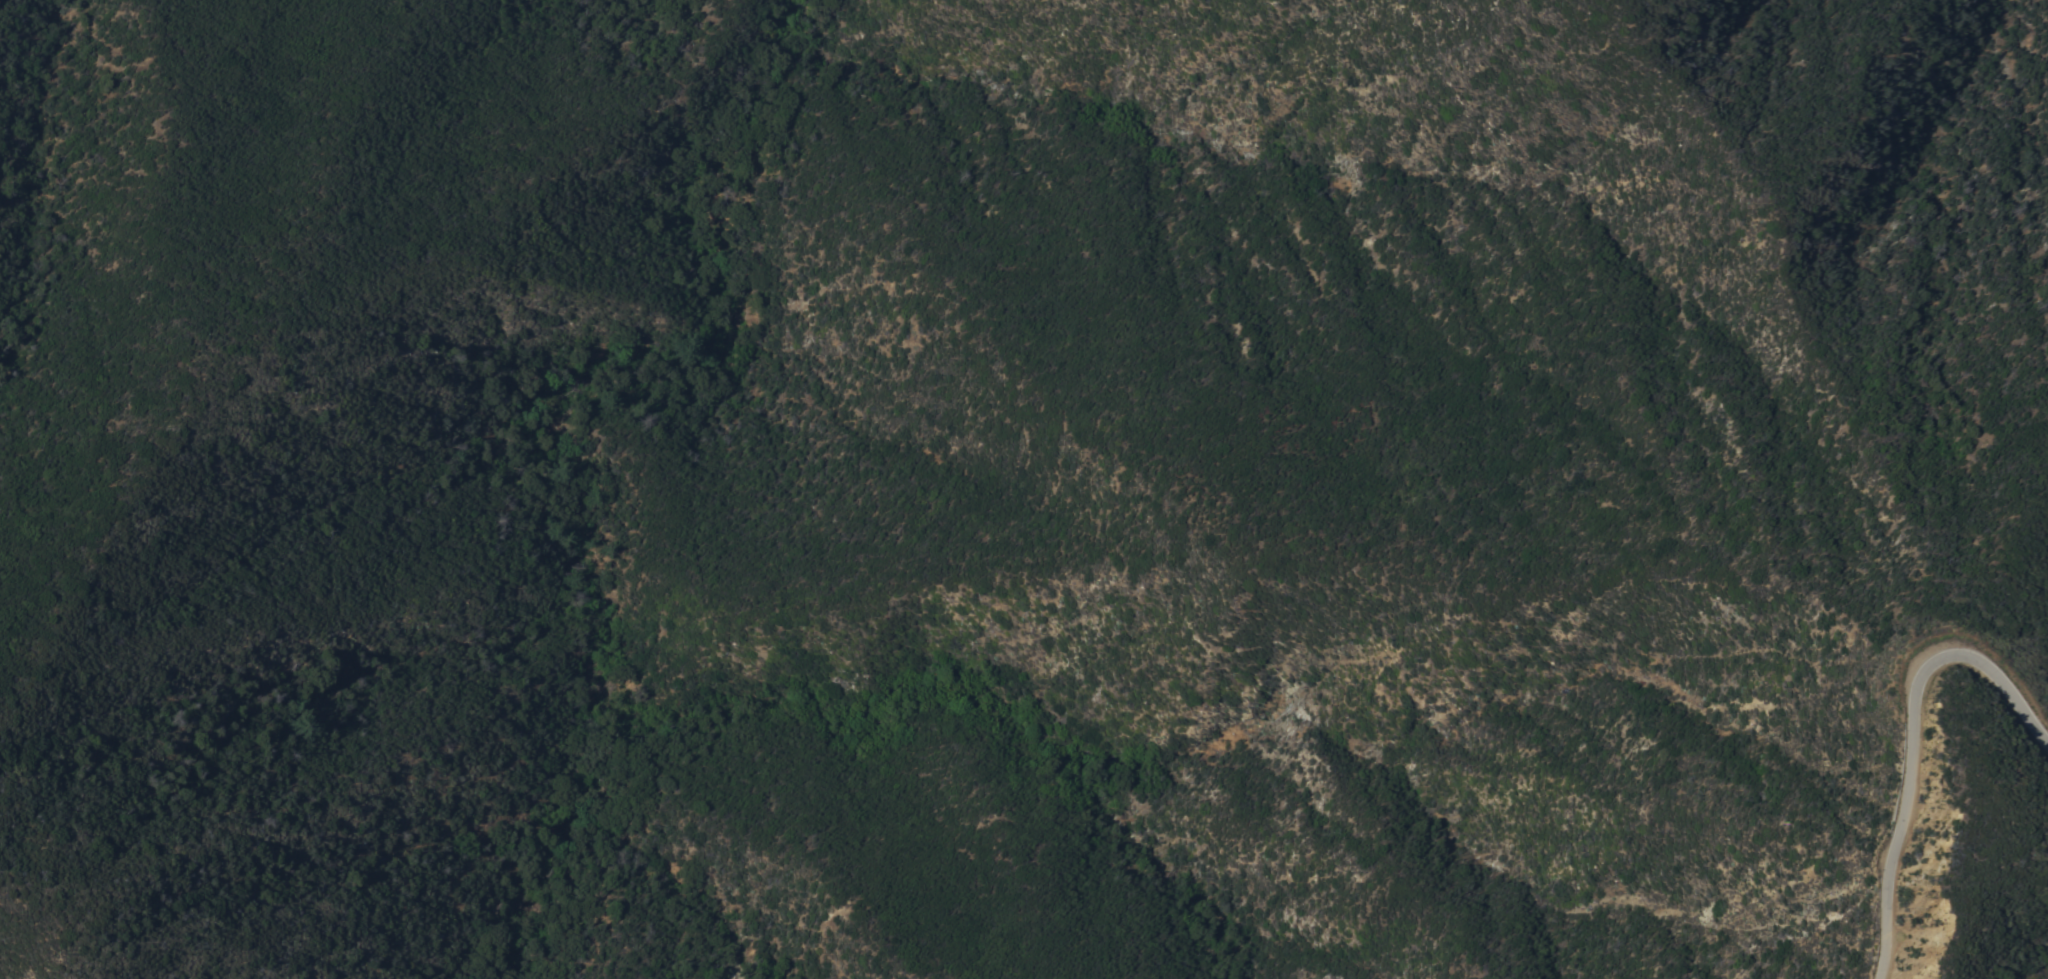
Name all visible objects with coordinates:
road: (1906, 742)

